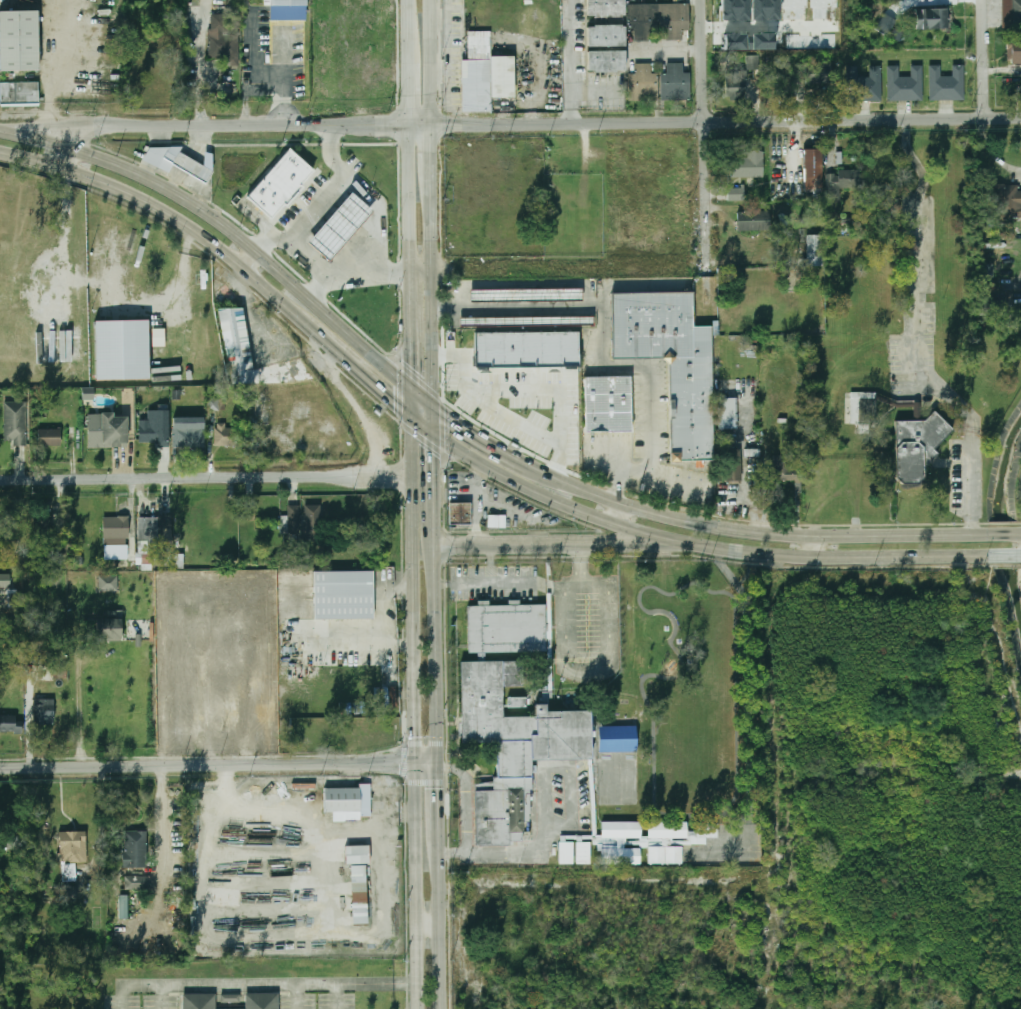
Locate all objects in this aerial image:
building: (286, 2)
road: (410, 9)
building: (605, 9)
building: (1011, 14)
building: (932, 18)
building: (674, 20)
building: (641, 22)
building: (886, 24)
building: (606, 35)
building: (223, 39)
building: (19, 40)
building: (1013, 50)
road: (985, 59)
road: (198, 61)
road: (430, 61)
road: (573, 61)
building: (606, 61)
building: (752, 62)
road: (411, 71)
road: (64, 74)
road: (249, 74)
building: (485, 74)
building: (818, 74)
building: (675, 82)
building: (643, 83)
building: (904, 84)
building: (946, 84)
building: (736, 85)
building: (863, 85)
building: (20, 94)
road: (50, 123)
road: (556, 123)
road: (83, 133)
road: (705, 148)
road: (330, 152)
road: (992, 152)
road: (69, 154)
road: (431, 154)
building: (188, 165)
building: (748, 165)
building: (813, 171)
building: (282, 182)
building: (841, 182)
road: (340, 184)
building: (736, 194)
road: (412, 196)
building: (1006, 201)
building: (754, 220)
road: (191, 222)
building: (343, 225)
gas station: (343, 225)
road: (236, 228)
building: (814, 250)
road: (250, 256)
road: (309, 256)
road: (381, 262)
building: (987, 270)
road: (423, 271)
road: (327, 274)
road: (180, 282)
building: (526, 294)
building: (997, 302)
road: (433, 304)
building: (526, 320)
road: (413, 330)
road: (919, 332)
building: (158, 337)
building: (236, 345)
road: (602, 345)
building: (121, 349)
building: (526, 352)
building: (669, 360)
traffic signals: (413, 362)
road: (380, 385)
traffic signals: (398, 400)
building: (212, 404)
building: (607, 404)
parking lot: (525, 407)
building: (863, 408)
building: (728, 413)
traffic signals: (453, 416)
building: (15, 422)
road: (464, 423)
building: (155, 429)
building: (107, 431)
building: (189, 432)
building: (226, 435)
building: (49, 437)
building: (918, 446)
traffic signals: (431, 448)
road: (431, 457)
building: (733, 467)
building: (785, 469)
road: (206, 478)
road: (751, 494)
road: (621, 510)
building: (250, 513)
building: (460, 514)
building: (215, 517)
building: (293, 521)
river: (1004, 521)
building: (312, 522)
building: (503, 522)
road: (734, 525)
building: (45, 529)
building: (116, 530)
building: (155, 530)
road: (1002, 533)
road: (1019, 533)
road: (685, 537)
road: (559, 540)
road: (812, 541)
road: (1001, 555)
road: (1019, 555)
building: (179, 561)
road: (586, 563)
road: (413, 576)
building: (296, 578)
building: (5, 580)
road: (509, 581)
road: (473, 582)
building: (108, 583)
road: (396, 586)
road: (576, 587)
road: (725, 588)
road: (678, 589)
building: (343, 595)
building: (11, 598)
building: (242, 613)
road: (379, 615)
road: (611, 617)
road: (307, 622)
road: (436, 627)
building: (108, 630)
road: (361, 644)
road: (567, 648)
building: (242, 654)
building: (59, 672)
road: (646, 676)
road: (1001, 679)
road: (735, 687)
road: (773, 694)
road: (79, 709)
building: (177, 712)
building: (266, 712)
building: (44, 713)
building: (234, 713)
building: (199, 714)
building: (510, 718)
road: (28, 721)
building: (11, 723)
traffic signals: (416, 734)
building: (615, 738)
park: (693, 761)
traffic signals: (399, 764)
road: (428, 764)
road: (208, 766)
traffic signals: (452, 767)
road: (563, 768)
traffic signals: (440, 787)
road: (440, 799)
road: (464, 800)
building: (346, 801)
road: (897, 809)
road: (100, 815)
road: (702, 815)
road: (161, 816)
building: (619, 828)
building: (665, 829)
building: (705, 829)
building: (13, 844)
building: (135, 849)
building: (564, 852)
building: (355, 853)
road: (453, 853)
road: (506, 853)
building: (582, 853)
building: (663, 854)
building: (619, 855)
building: (72, 856)
building: (138, 882)
road: (605, 885)
road: (417, 886)
building: (67, 893)
building: (357, 895)
building: (123, 907)
road: (441, 921)
road: (429, 924)
road: (280, 984)
road: (920, 997)
building: (230, 998)
building: (197, 1000)

